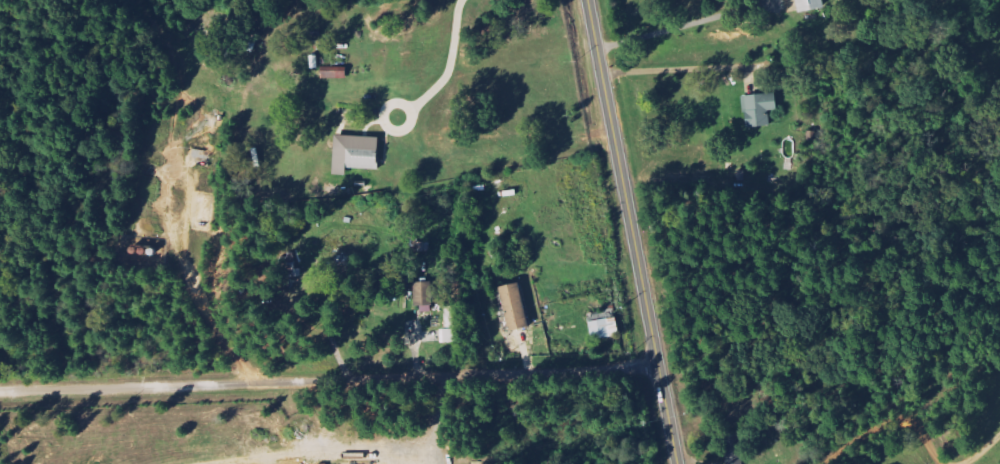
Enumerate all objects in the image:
building: (810, 5)
building: (335, 74)
building: (760, 109)
building: (357, 153)
road: (632, 231)
building: (425, 297)
building: (515, 306)
building: (605, 327)
building: (451, 335)
road: (329, 383)

